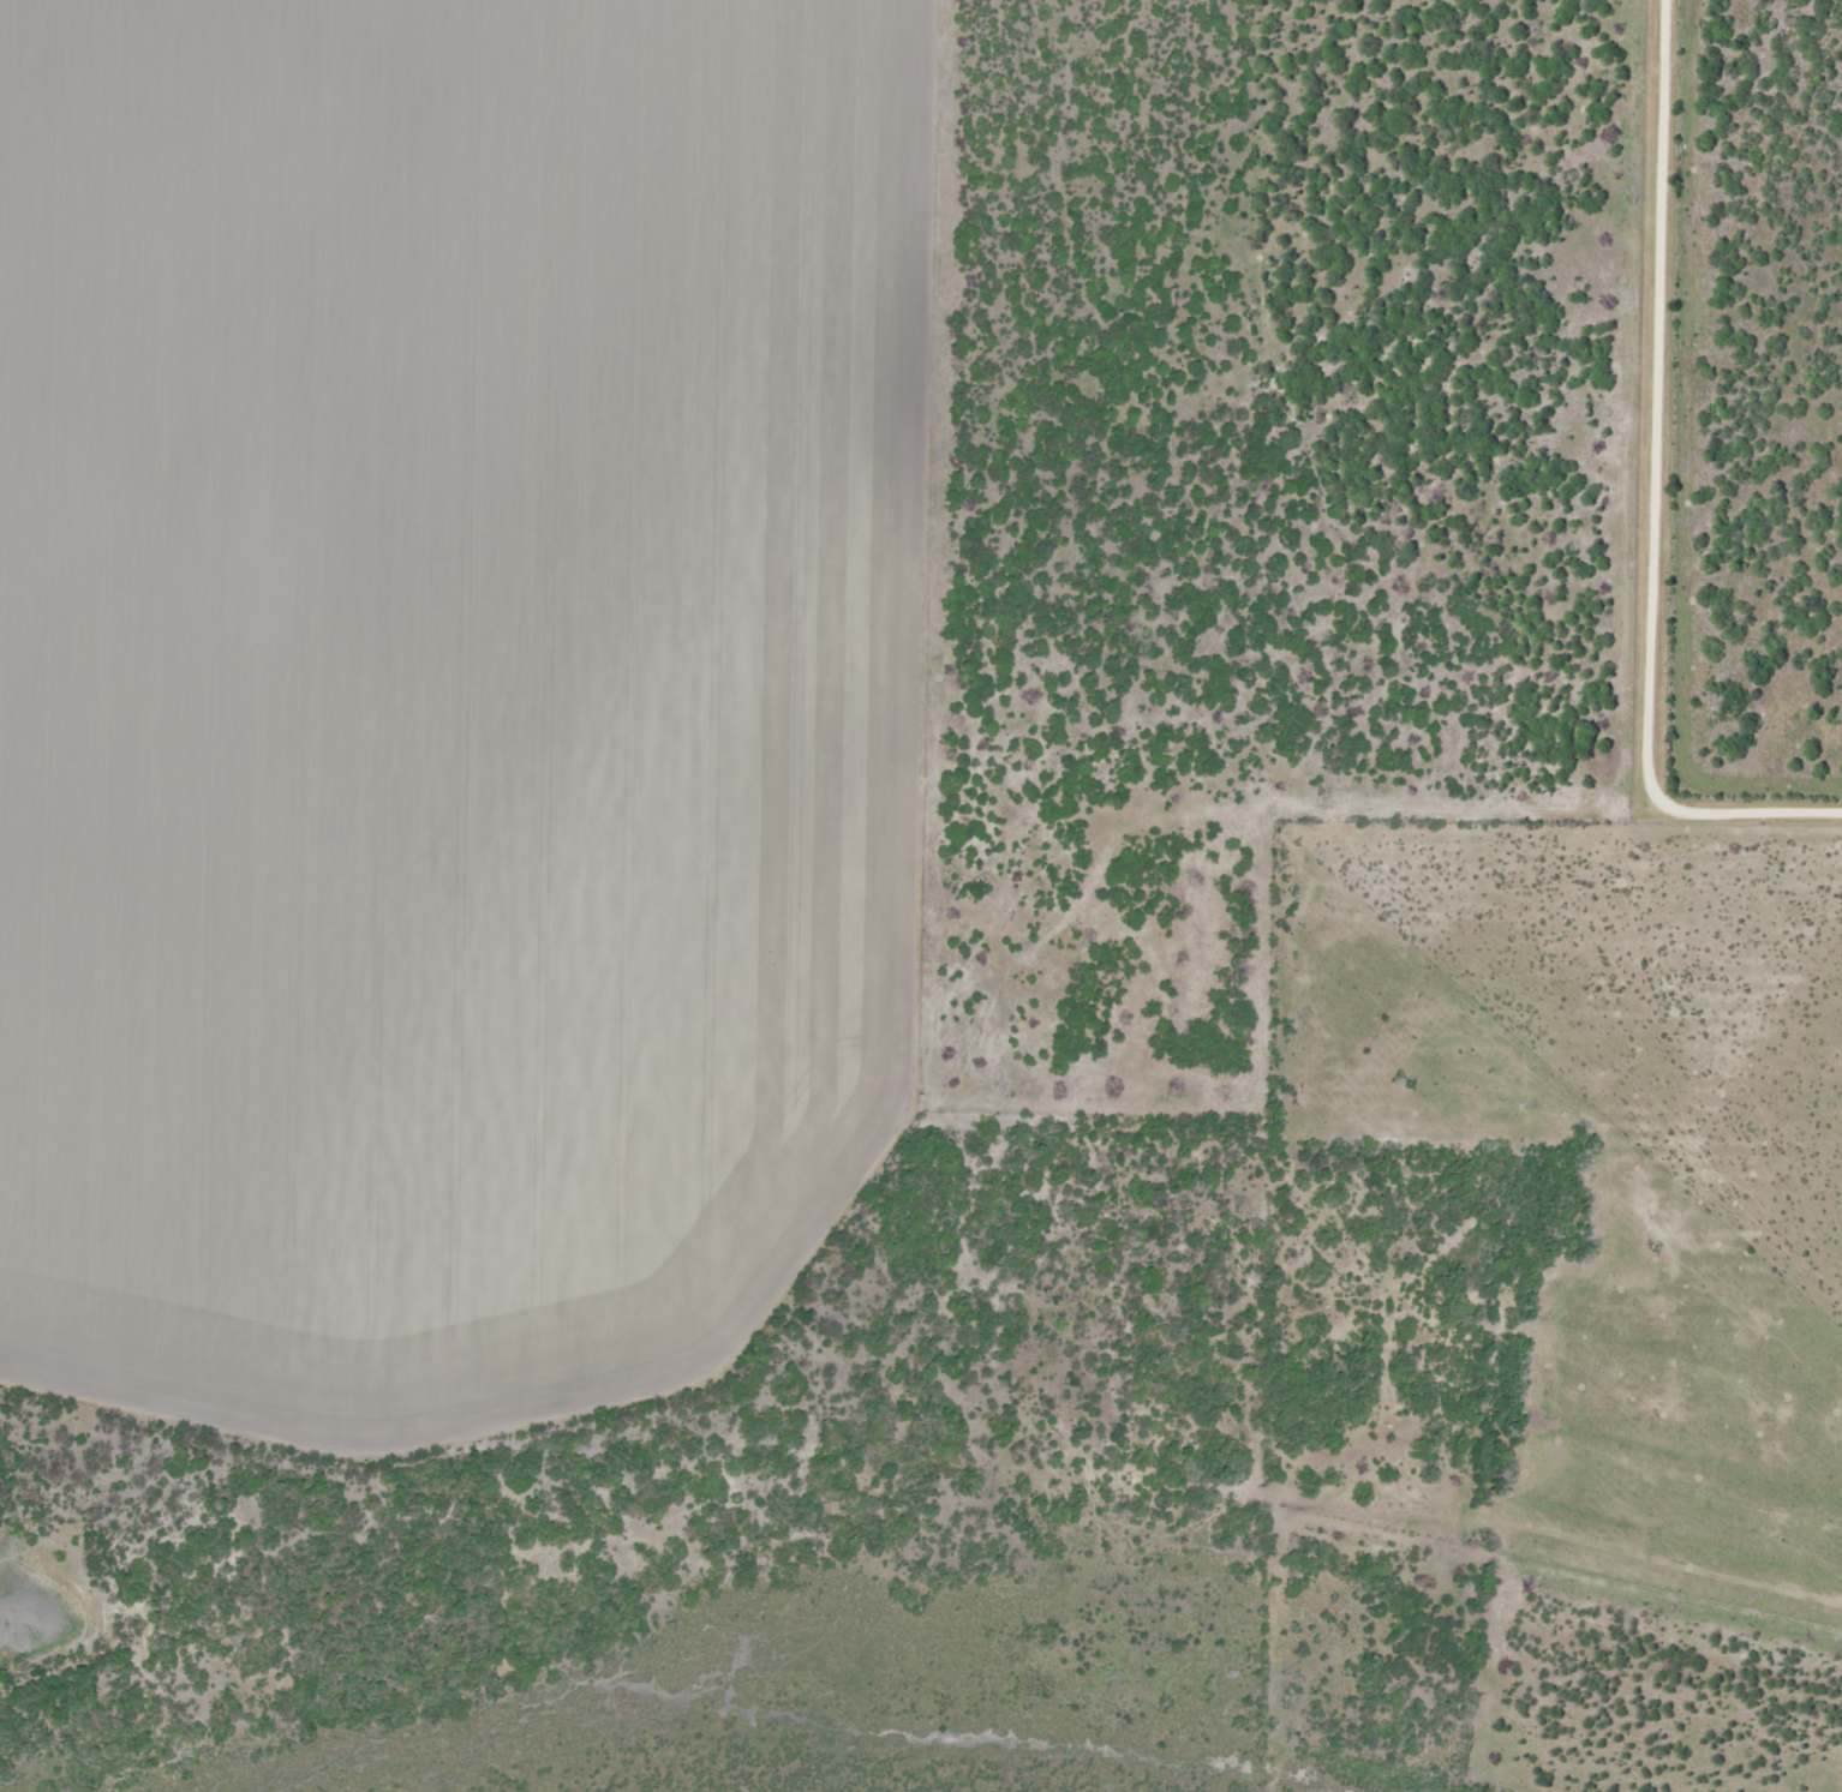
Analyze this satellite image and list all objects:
road: (1650, 497)

